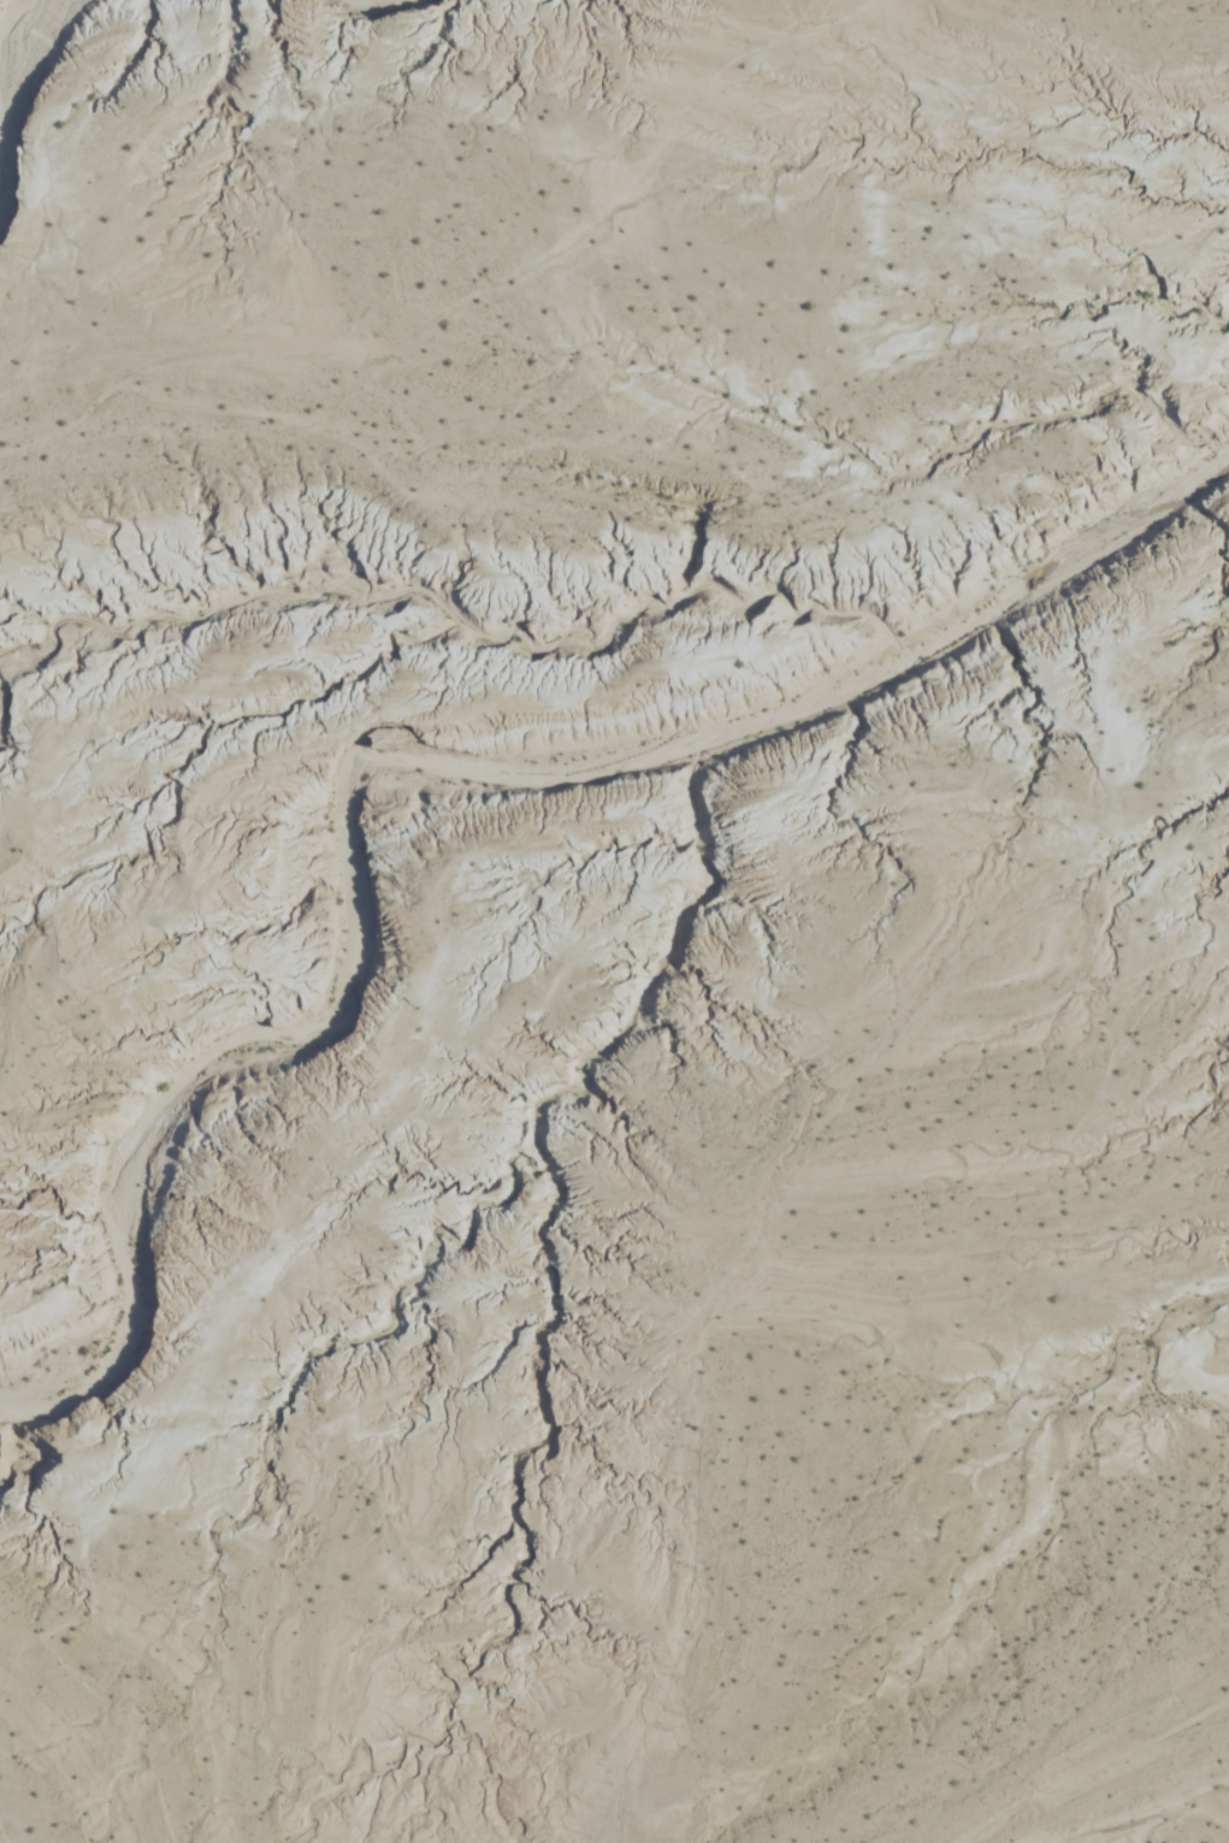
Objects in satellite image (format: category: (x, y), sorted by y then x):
road: (5, 79)

